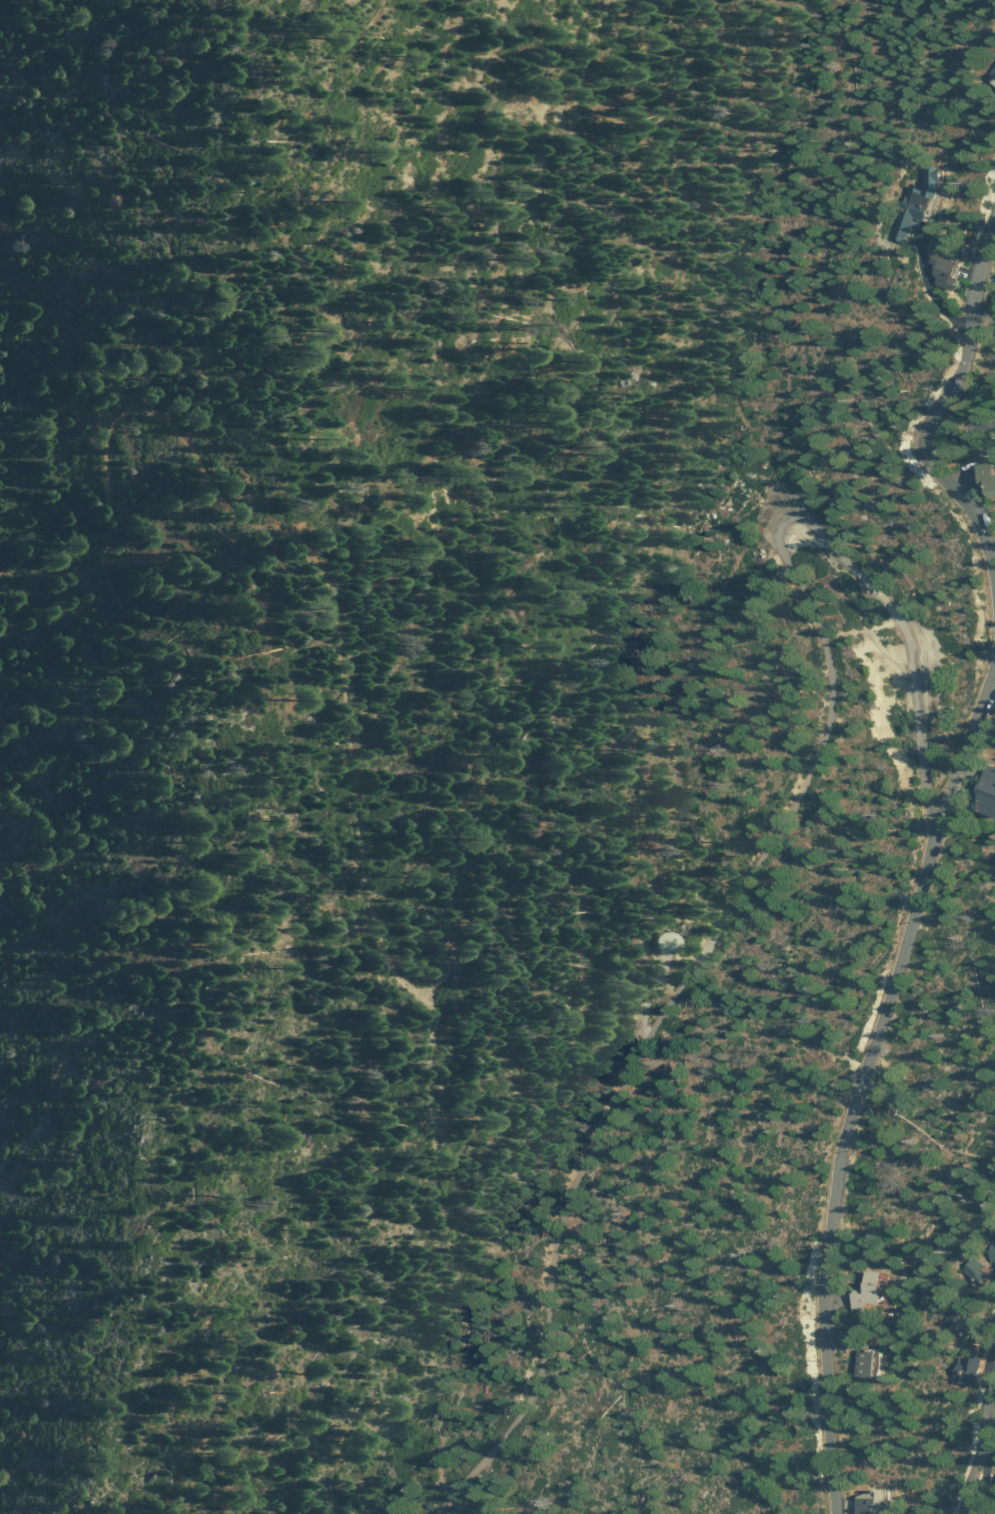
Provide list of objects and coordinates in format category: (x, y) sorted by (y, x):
building: (921, 201)
road: (944, 403)
road: (826, 643)
building: (988, 793)
road: (356, 809)
road: (859, 1075)
building: (977, 1270)
road: (533, 1276)
building: (994, 1280)
building: (878, 1291)
building: (958, 1315)
building: (876, 1364)
building: (972, 1370)
road: (990, 1429)
road: (981, 1447)
building: (881, 1500)
road: (424, 1509)

